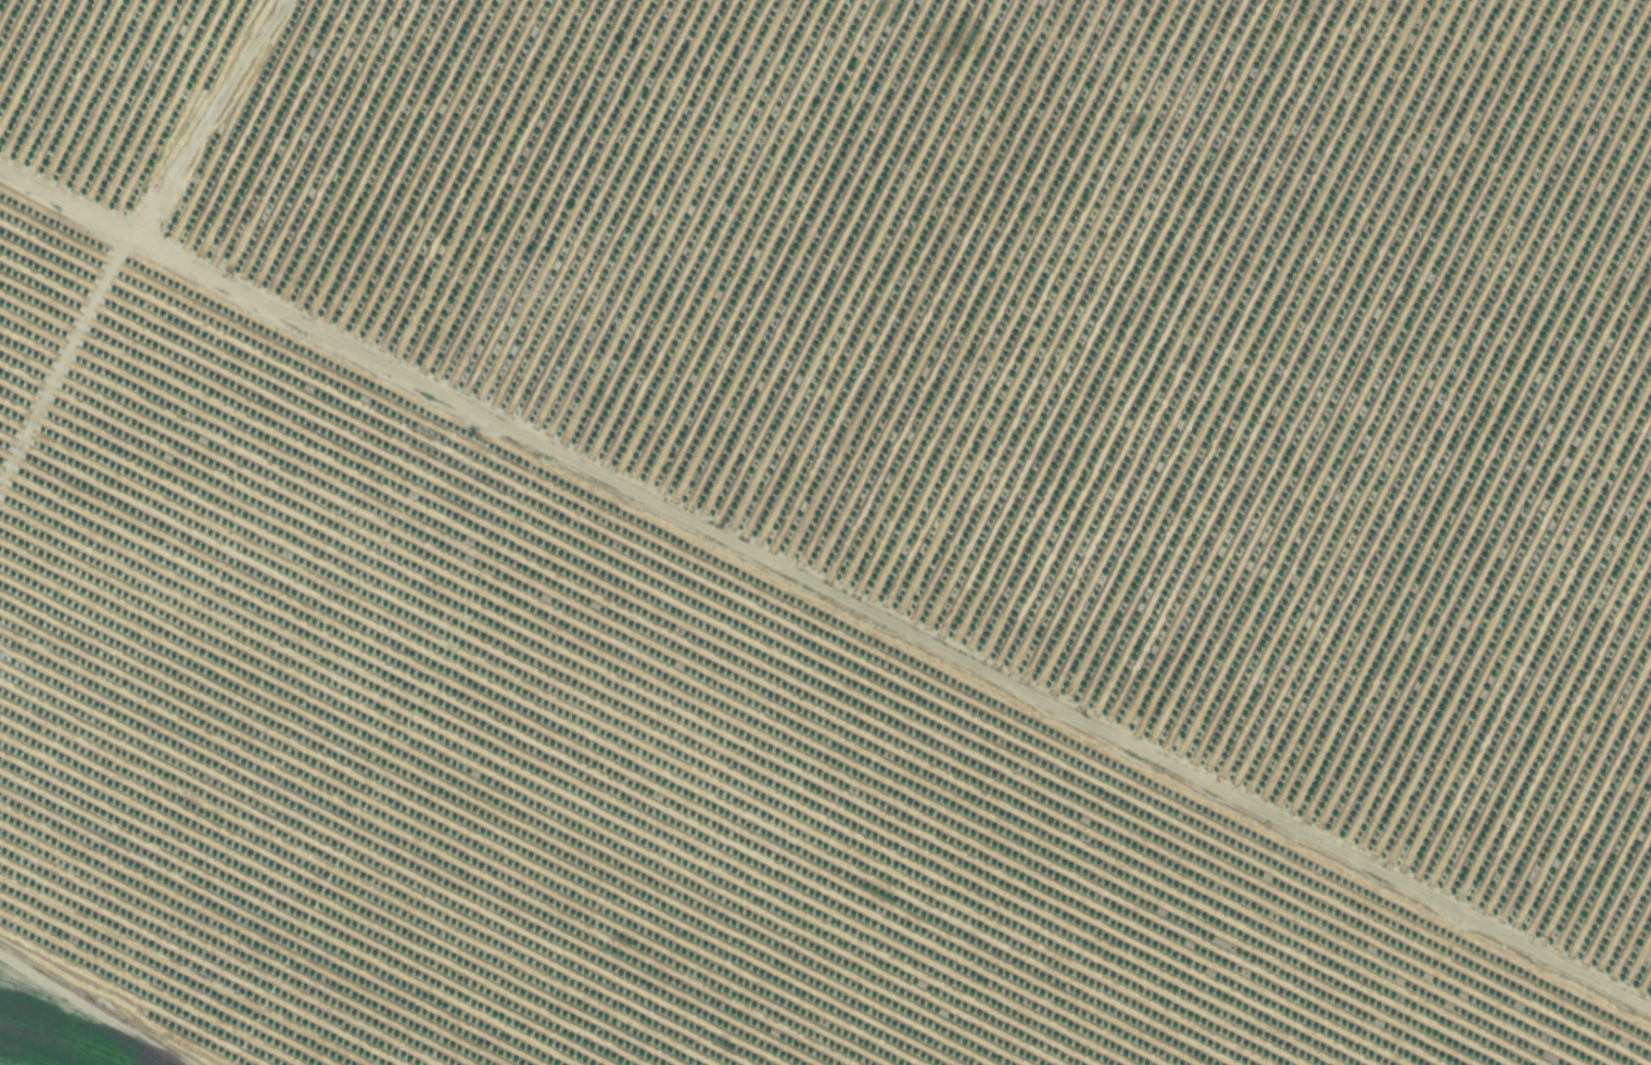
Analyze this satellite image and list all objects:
crop: (825, 532)

